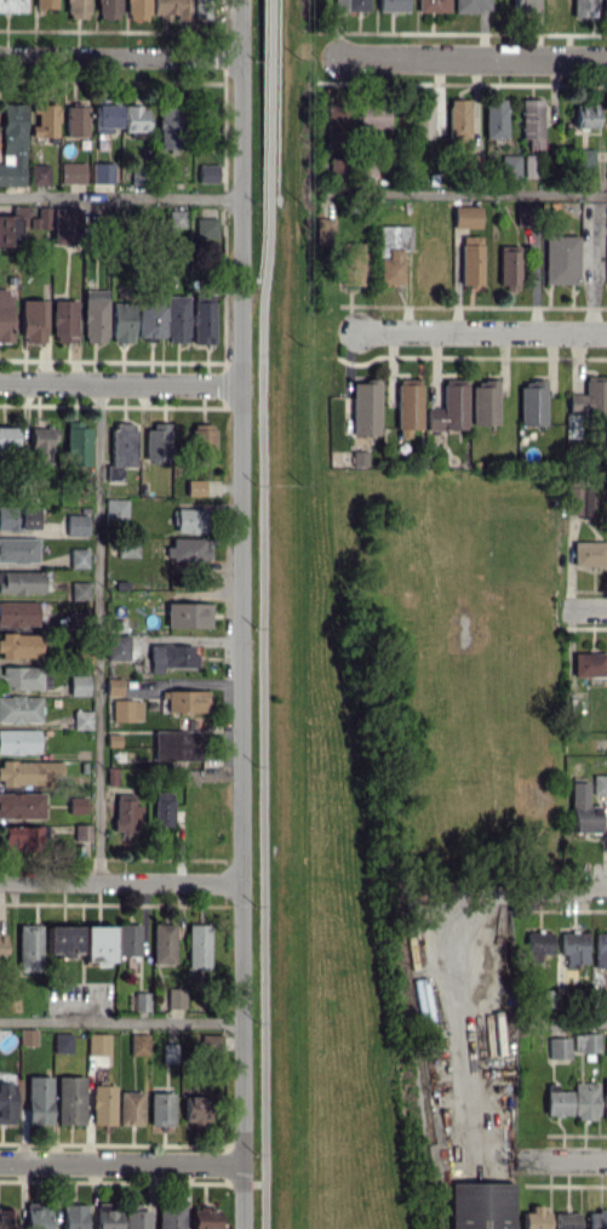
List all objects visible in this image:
building: (45, 4)
building: (356, 4)
building: (526, 4)
building: (11, 5)
building: (393, 5)
building: (433, 5)
building: (471, 5)
building: (603, 6)
building: (583, 7)
building: (76, 8)
building: (108, 8)
building: (137, 8)
building: (171, 10)
road: (119, 55)
road: (474, 57)
road: (267, 102)
building: (585, 115)
building: (107, 116)
building: (373, 116)
building: (134, 118)
building: (494, 119)
building: (45, 120)
building: (76, 120)
building: (458, 121)
building: (532, 121)
building: (205, 124)
building: (168, 126)
building: (336, 126)
building: (12, 144)
building: (585, 162)
building: (509, 165)
building: (71, 172)
building: (102, 172)
building: (207, 172)
building: (39, 173)
road: (463, 193)
road: (119, 196)
building: (527, 213)
building: (466, 216)
building: (40, 218)
building: (176, 218)
building: (13, 224)
building: (61, 225)
building: (206, 229)
building: (325, 229)
building: (391, 251)
building: (560, 258)
building: (470, 259)
building: (351, 262)
building: (509, 265)
building: (5, 315)
building: (95, 315)
building: (177, 318)
building: (33, 320)
building: (64, 320)
building: (149, 320)
building: (121, 321)
building: (202, 321)
road: (483, 331)
road: (119, 383)
building: (589, 399)
building: (483, 402)
building: (532, 402)
building: (365, 406)
building: (407, 406)
building: (449, 406)
building: (7, 436)
building: (156, 441)
building: (122, 442)
building: (206, 442)
building: (40, 444)
building: (78, 444)
building: (359, 457)
building: (115, 471)
building: (195, 486)
building: (579, 502)
building: (115, 508)
building: (18, 518)
building: (189, 520)
building: (76, 524)
building: (127, 547)
building: (189, 548)
building: (18, 549)
building: (589, 553)
building: (79, 558)
building: (21, 581)
building: (79, 590)
road: (589, 608)
building: (18, 612)
building: (188, 613)
road: (240, 613)
railway: (290, 613)
road: (99, 631)
building: (19, 644)
building: (118, 646)
building: (171, 656)
building: (589, 663)
building: (24, 678)
building: (79, 684)
building: (113, 686)
building: (185, 701)
building: (19, 709)
building: (126, 709)
road: (263, 715)
building: (81, 719)
building: (18, 741)
road: (601, 742)
building: (177, 744)
building: (28, 772)
building: (599, 783)
building: (22, 804)
building: (75, 804)
building: (162, 808)
building: (582, 808)
building: (126, 812)
building: (19, 835)
building: (81, 840)
road: (120, 880)
road: (539, 892)
building: (127, 938)
building: (63, 939)
building: (2, 941)
building: (162, 943)
building: (98, 944)
building: (199, 944)
building: (29, 947)
building: (574, 947)
building: (601, 949)
building: (605, 994)
building: (176, 998)
building: (420, 998)
building: (141, 1000)
road: (462, 1007)
road: (121, 1021)
road: (565, 1022)
building: (27, 1036)
building: (62, 1041)
building: (585, 1041)
building: (97, 1042)
building: (138, 1044)
building: (606, 1045)
building: (559, 1047)
building: (170, 1051)
building: (39, 1099)
building: (70, 1099)
building: (585, 1099)
building: (605, 1099)
building: (557, 1101)
building: (6, 1102)
building: (103, 1103)
building: (130, 1107)
building: (161, 1108)
building: (195, 1109)
road: (561, 1159)
road: (121, 1162)
building: (480, 1205)
building: (38, 1214)
building: (170, 1214)
building: (73, 1216)
building: (104, 1216)
building: (206, 1217)
building: (6, 1218)
building: (136, 1218)
building: (536, 1218)
building: (566, 1219)
building: (596, 1219)

